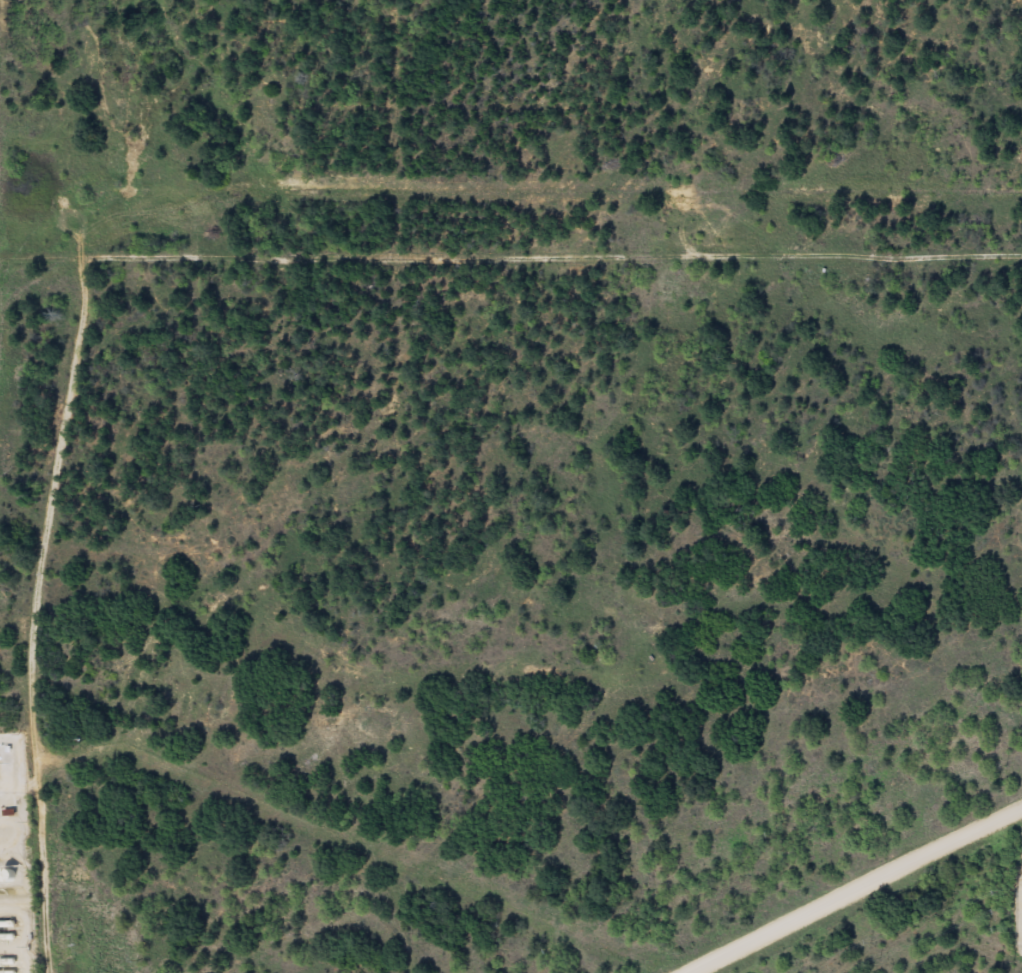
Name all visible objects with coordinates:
road: (888, 912)

